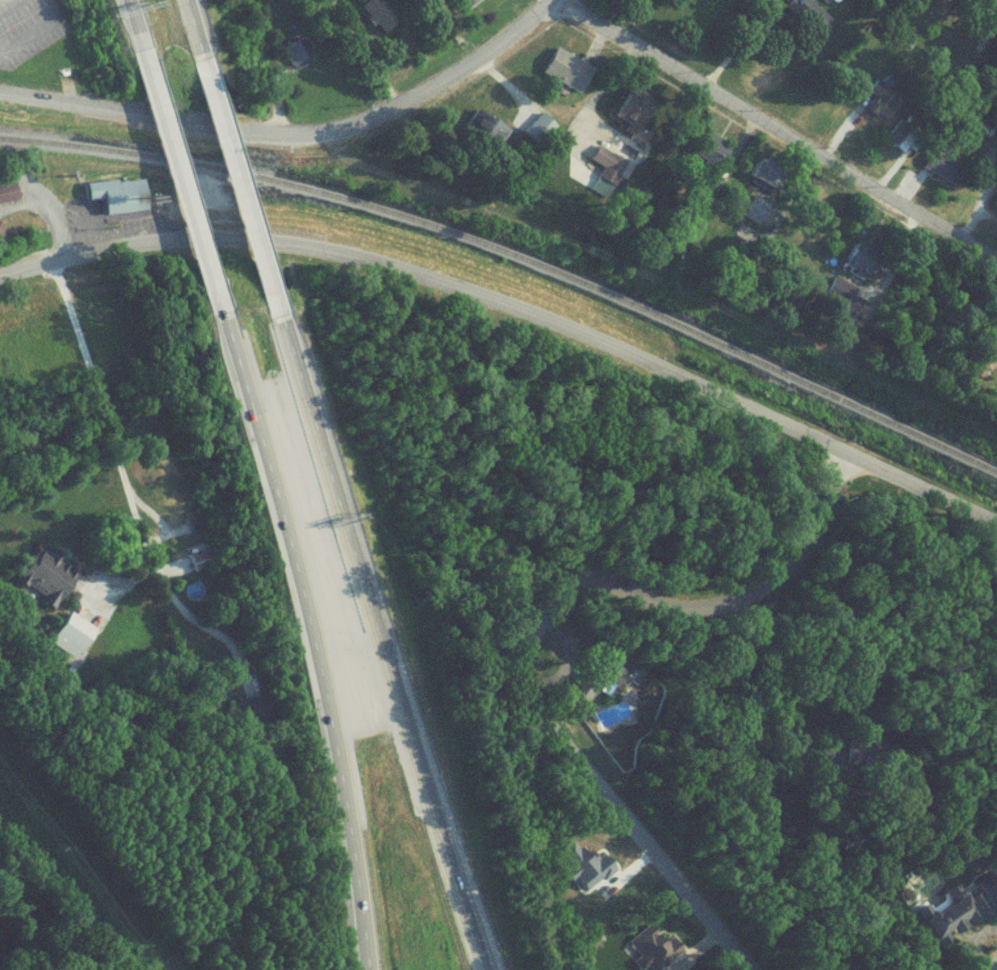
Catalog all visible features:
road: (555, 2)
road: (135, 27)
road: (191, 27)
building: (377, 29)
parking lot: (27, 31)
road: (27, 37)
road: (737, 45)
building: (290, 62)
building: (563, 77)
building: (622, 121)
road: (776, 135)
road: (298, 138)
road: (174, 167)
road: (234, 169)
building: (935, 177)
road: (27, 188)
building: (7, 196)
building: (116, 197)
road: (25, 206)
building: (994, 210)
building: (753, 216)
road: (58, 234)
building: (1, 240)
road: (318, 250)
road: (74, 259)
railway: (514, 260)
building: (848, 267)
road: (740, 408)
road: (126, 490)
road: (307, 619)
road: (559, 626)
road: (376, 627)
building: (70, 641)

